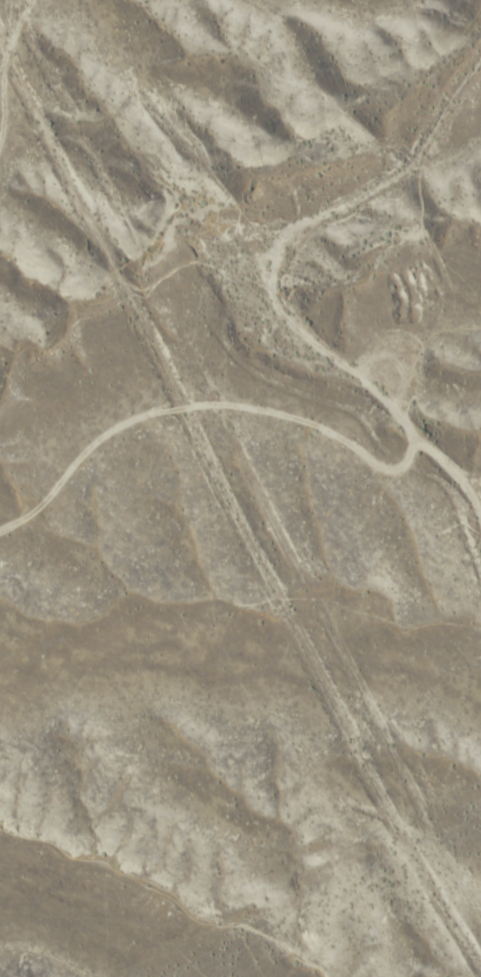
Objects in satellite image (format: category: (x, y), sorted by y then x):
road: (54, 107)
road: (271, 276)
road: (230, 487)
crop: (240, 488)

